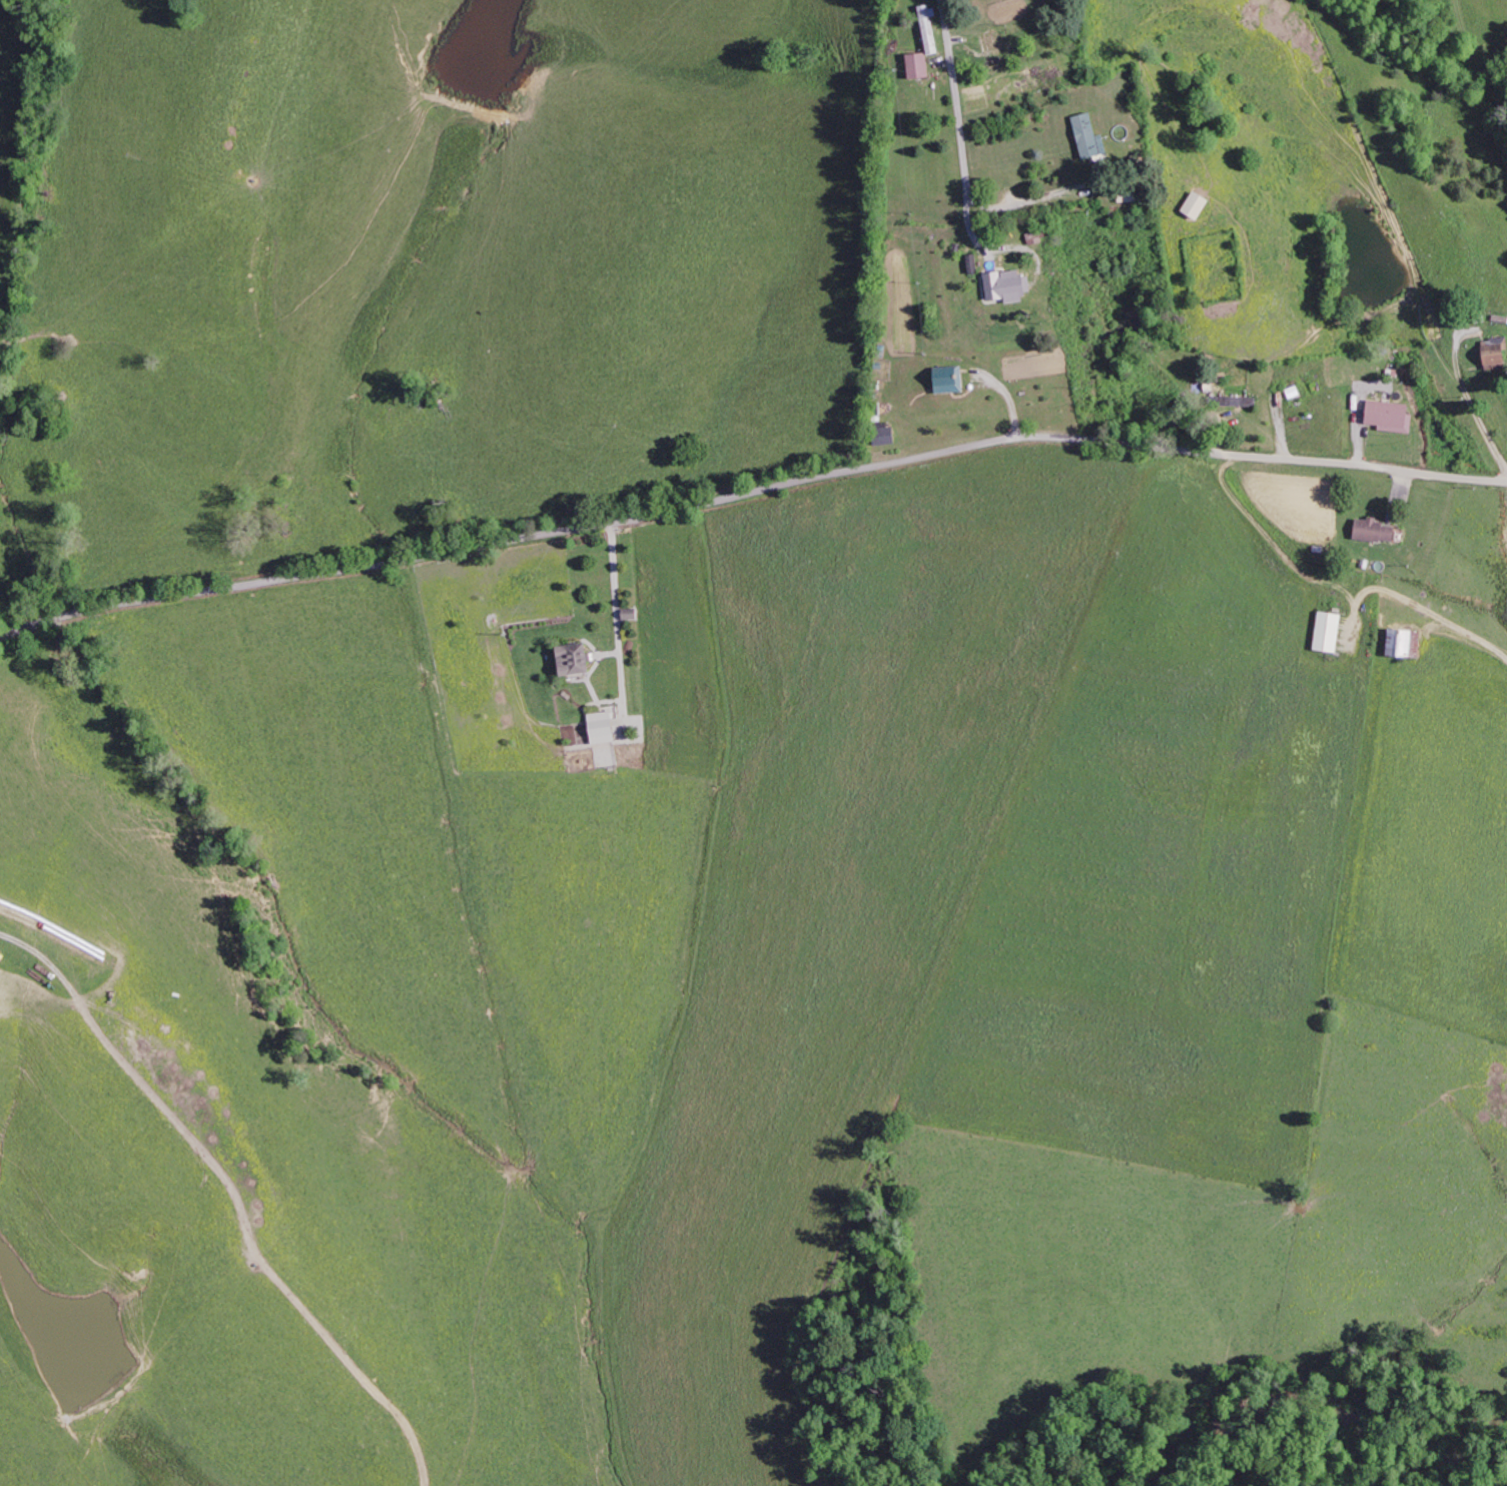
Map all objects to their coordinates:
building: (926, 28)
building: (914, 65)
road: (956, 94)
building: (1083, 135)
building: (1191, 205)
building: (1000, 286)
building: (1490, 352)
building: (943, 379)
building: (1385, 416)
building: (882, 436)
road: (750, 493)
building: (1370, 530)
building: (632, 613)
building: (1323, 632)
building: (1403, 645)
building: (578, 658)
building: (606, 727)

